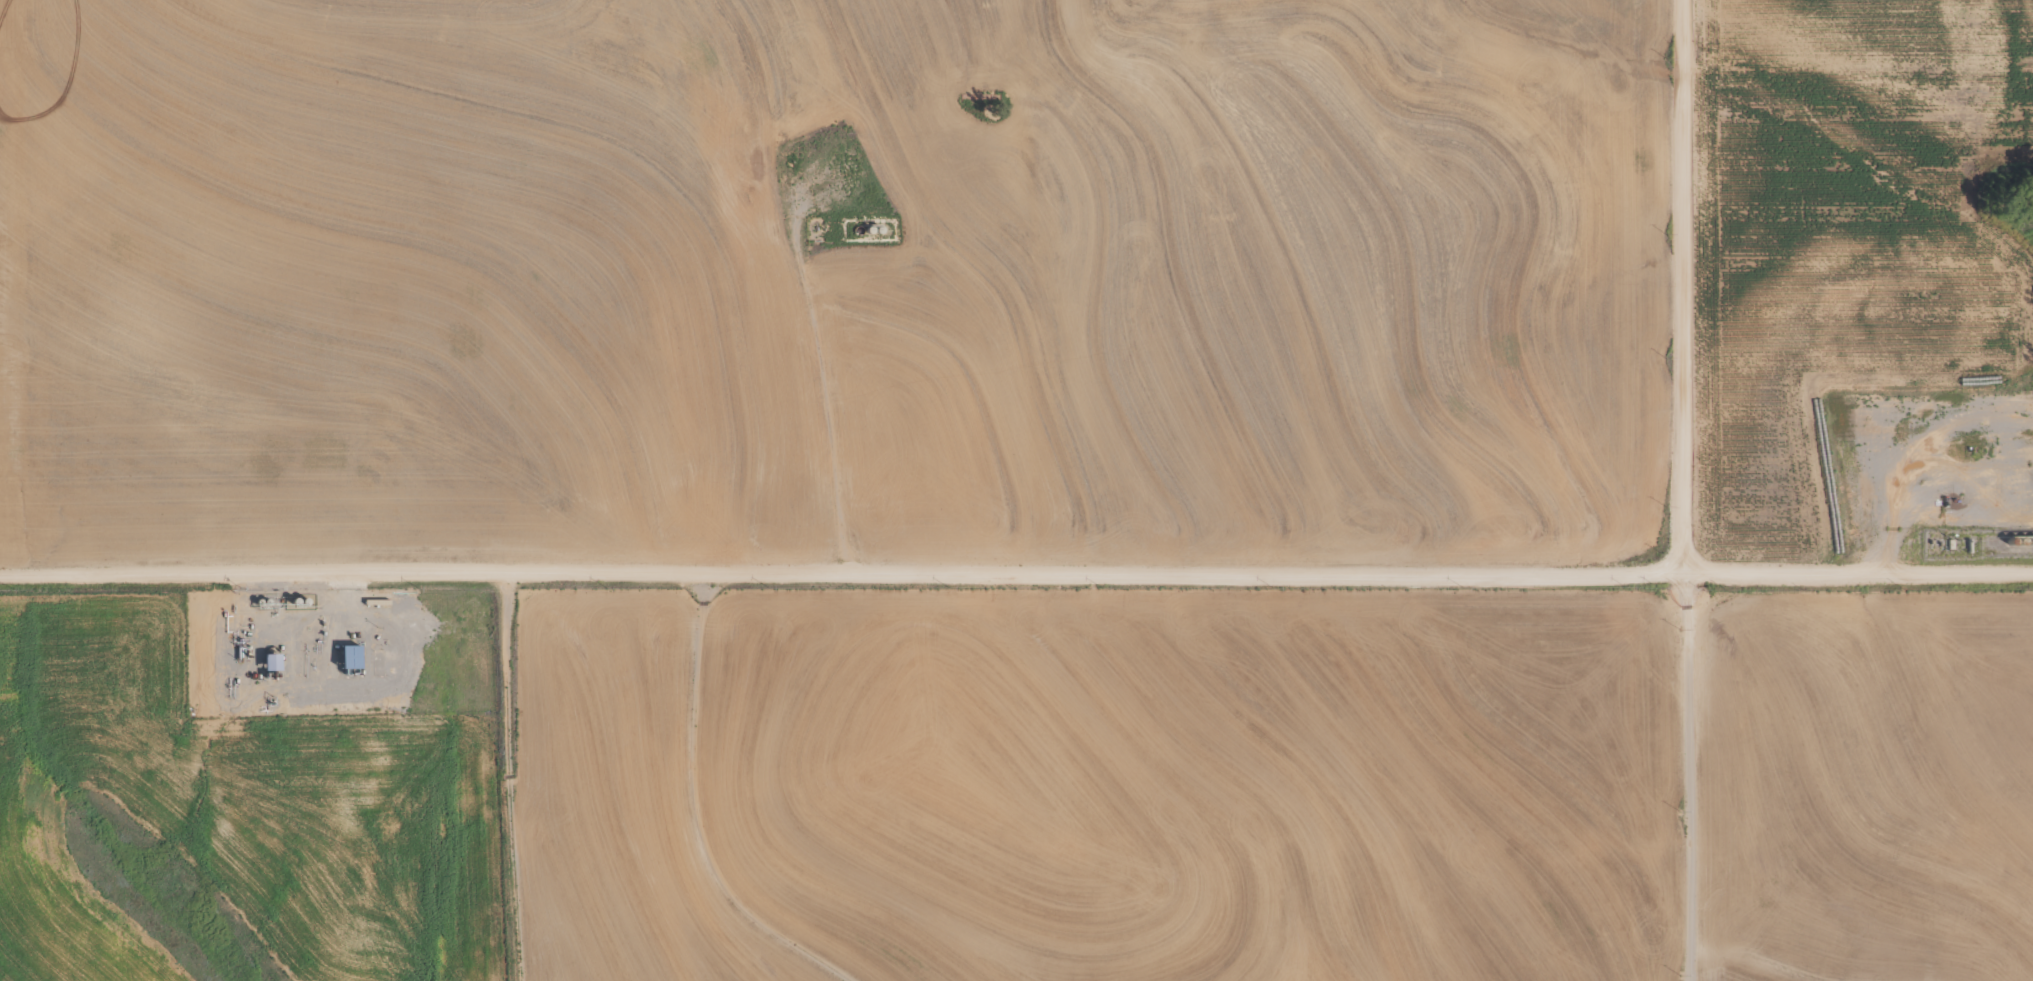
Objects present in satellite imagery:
road: (1689, 287)
road: (1016, 573)
building: (269, 664)

